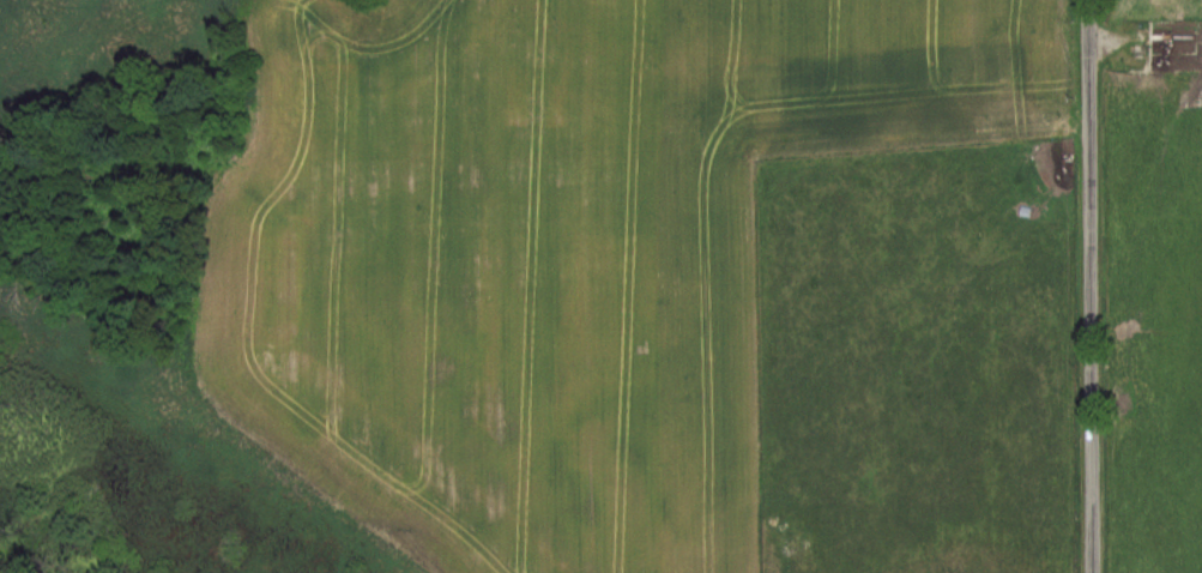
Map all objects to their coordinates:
road: (1086, 286)

